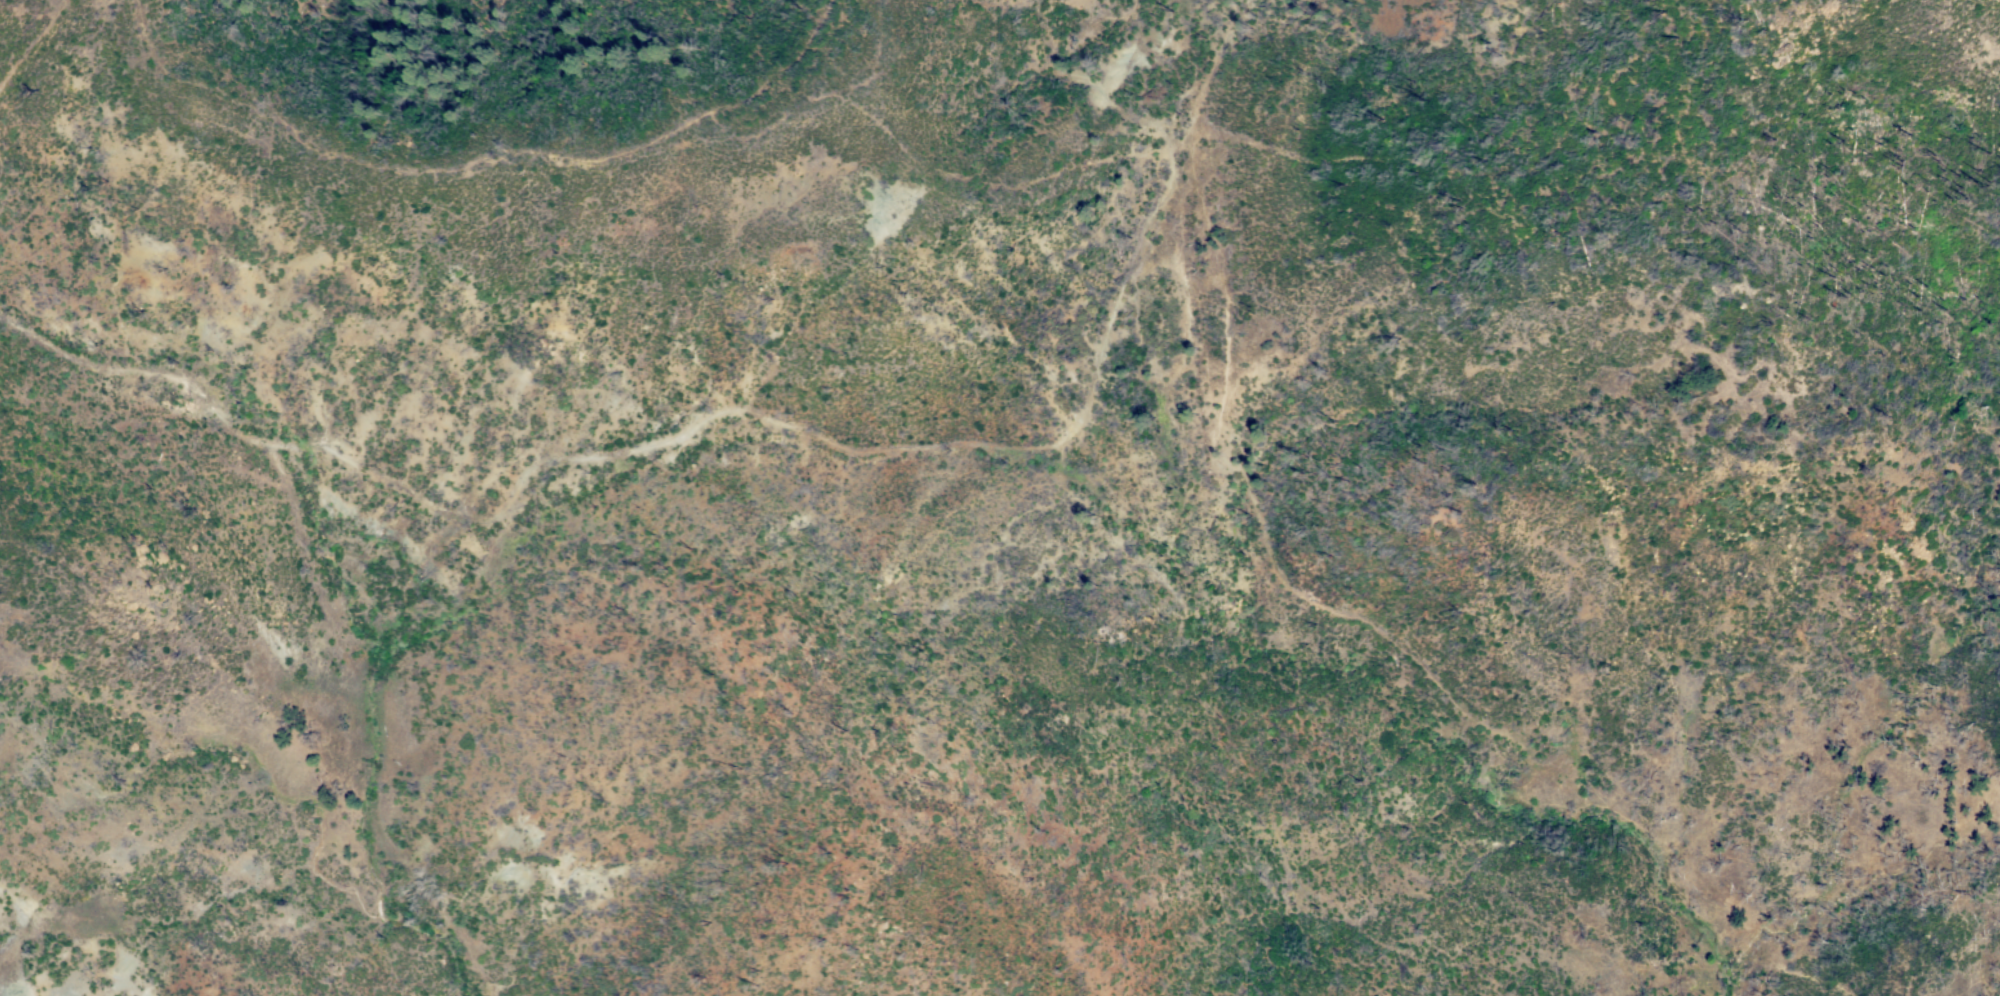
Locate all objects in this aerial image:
road: (35, 48)
road: (483, 164)
road: (1229, 289)
road: (930, 451)

